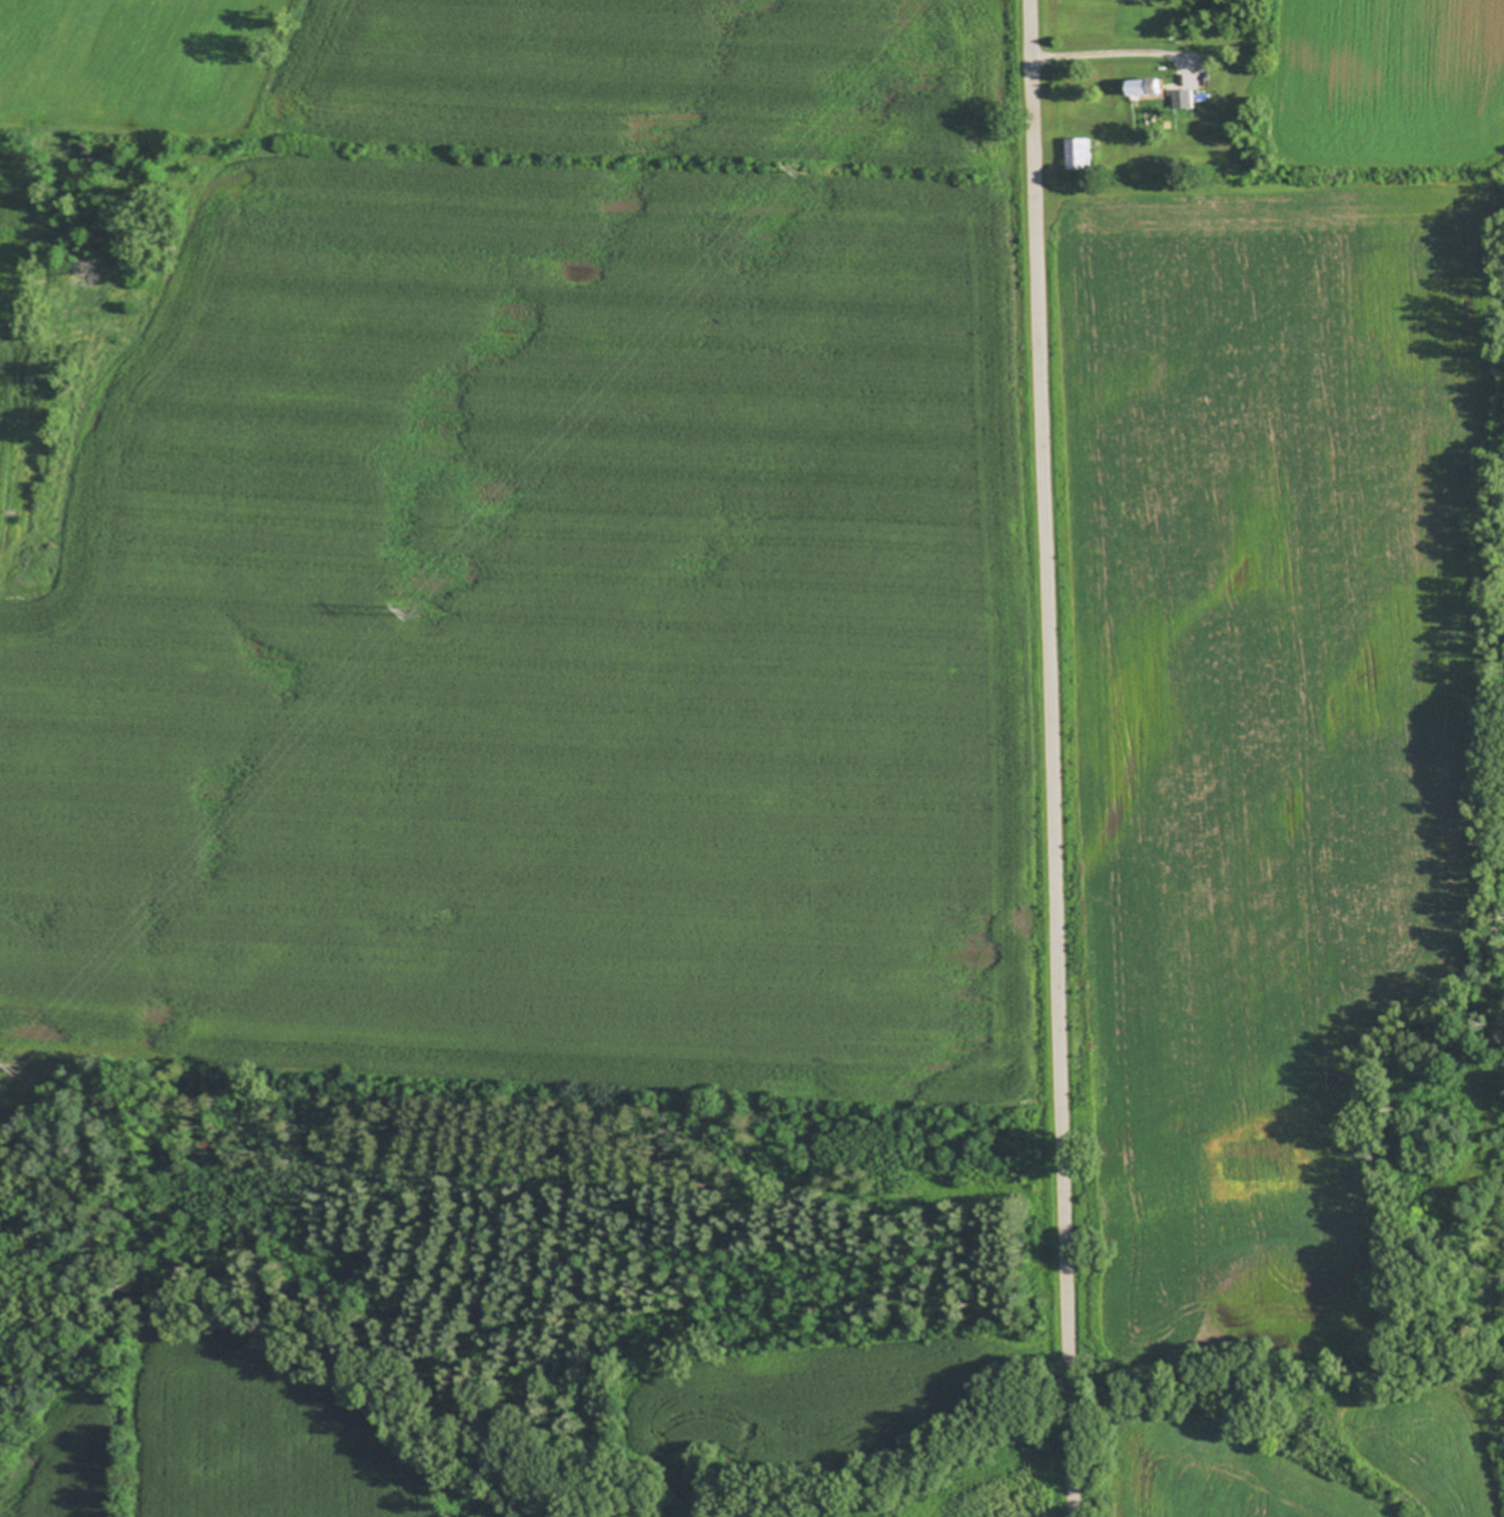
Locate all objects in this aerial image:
building: (1148, 88)
building: (1184, 98)
building: (1080, 151)
power tower: (795, 168)
power tower: (416, 605)
road: (1053, 758)
power tower: (6, 1069)

